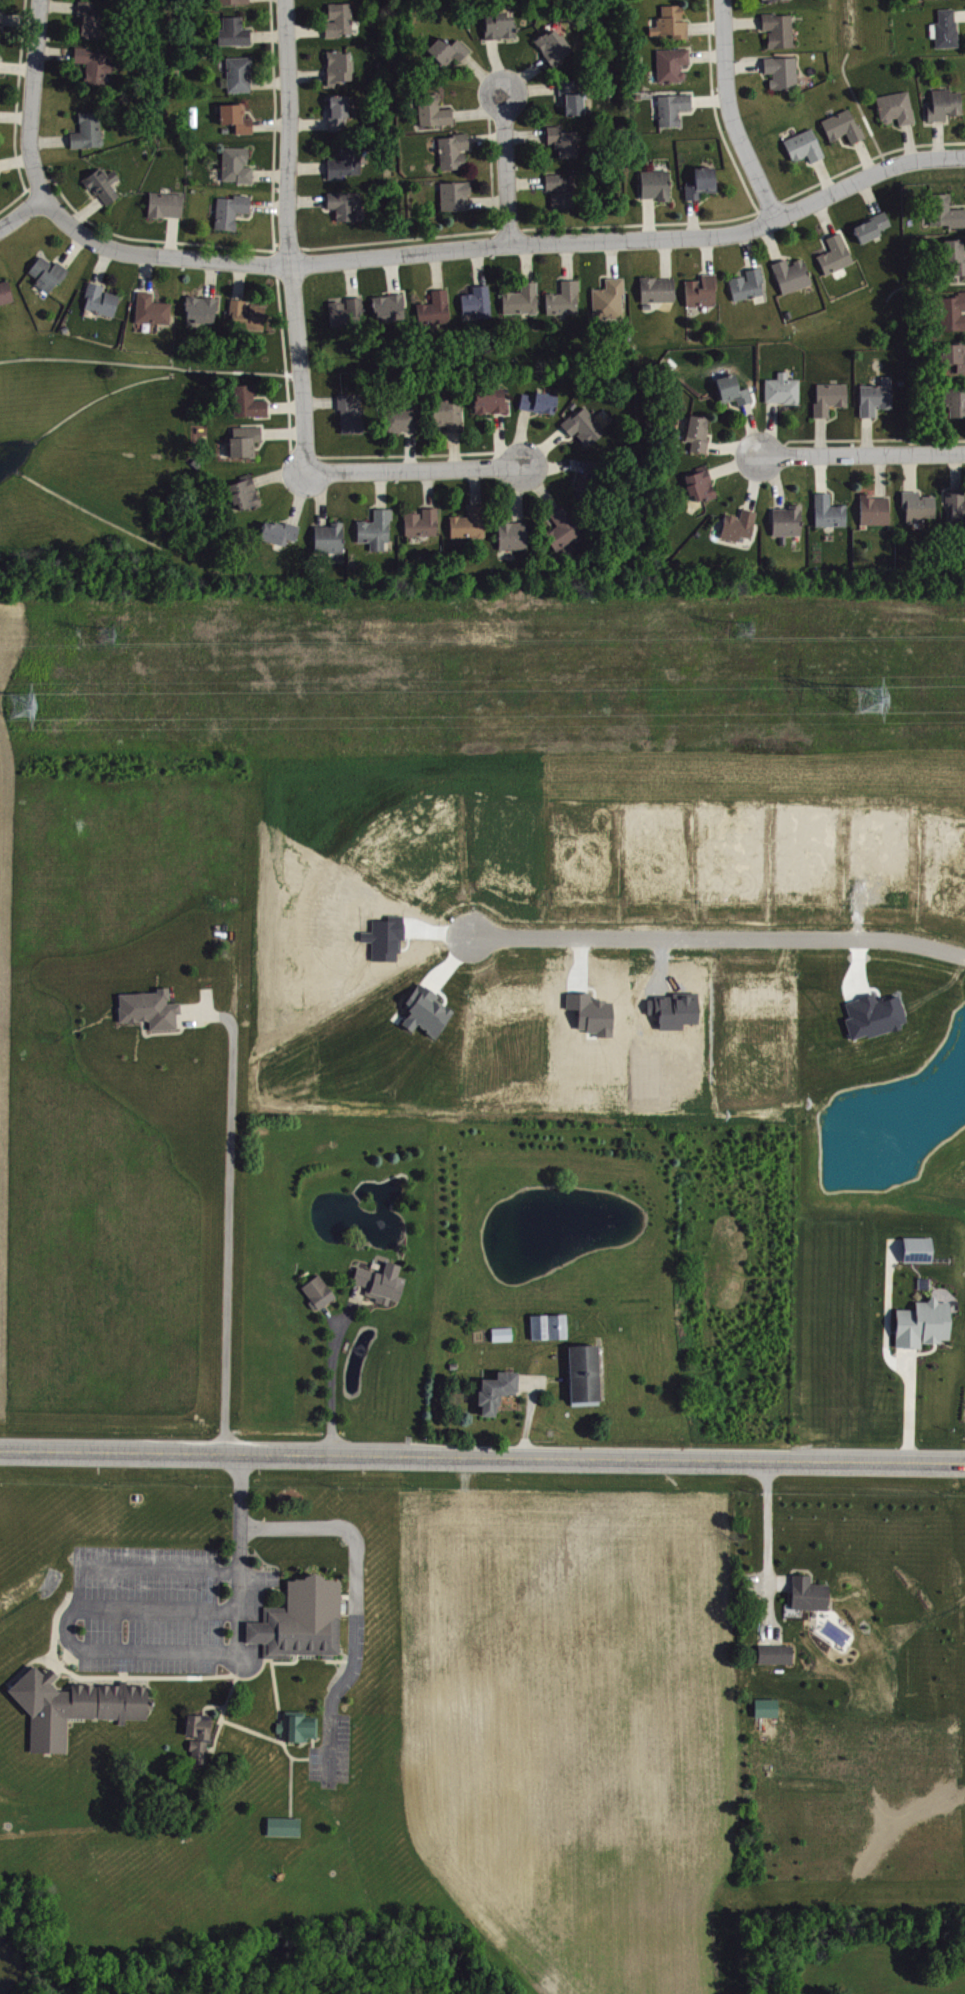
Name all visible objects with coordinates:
building: (775, 0)
building: (235, 2)
building: (2, 19)
building: (91, 20)
building: (342, 20)
building: (672, 24)
building: (502, 26)
building: (948, 29)
building: (781, 30)
building: (236, 32)
building: (556, 46)
building: (450, 50)
building: (0, 64)
building: (97, 65)
building: (674, 65)
building: (341, 67)
building: (784, 72)
building: (241, 74)
building: (573, 99)
road: (31, 100)
building: (946, 105)
building: (898, 108)
building: (675, 109)
building: (435, 111)
building: (340, 113)
road: (733, 115)
building: (239, 118)
building: (845, 126)
building: (90, 131)
building: (565, 141)
building: (806, 146)
building: (456, 151)
building: (348, 162)
building: (238, 165)
road: (508, 172)
building: (704, 183)
building: (658, 185)
building: (105, 186)
building: (563, 191)
building: (457, 196)
building: (167, 205)
building: (347, 205)
building: (233, 211)
building: (944, 212)
road: (22, 216)
building: (875, 227)
road: (288, 236)
road: (502, 246)
building: (837, 255)
building: (957, 255)
building: (50, 274)
building: (794, 276)
building: (750, 285)
building: (660, 290)
building: (704, 291)
building: (6, 293)
building: (567, 299)
building: (103, 300)
building: (524, 300)
building: (611, 300)
building: (479, 303)
building: (391, 308)
building: (437, 309)
building: (154, 310)
building: (203, 311)
building: (348, 311)
building: (249, 315)
building: (955, 358)
building: (784, 390)
building: (735, 391)
building: (878, 397)
building: (832, 398)
building: (493, 400)
building: (957, 401)
building: (250, 402)
building: (541, 403)
building: (450, 414)
building: (352, 415)
building: (404, 419)
building: (586, 427)
building: (700, 433)
building: (247, 441)
road: (866, 458)
road: (418, 471)
building: (702, 485)
building: (247, 493)
building: (920, 507)
building: (956, 507)
building: (877, 510)
building: (831, 512)
building: (789, 521)
building: (424, 523)
building: (471, 524)
building: (741, 526)
building: (565, 529)
building: (378, 530)
building: (282, 533)
building: (515, 536)
building: (332, 538)
power tower: (743, 628)
power tower: (106, 636)
power tower: (870, 698)
power tower: (23, 704)
road: (719, 938)
building: (152, 1009)
road: (231, 1219)
building: (920, 1250)
building: (384, 1283)
building: (321, 1293)
building: (925, 1324)
building: (551, 1327)
building: (504, 1335)
building: (586, 1376)
road: (335, 1384)
building: (498, 1391)
road: (908, 1410)
road: (482, 1460)
road: (770, 1538)
building: (811, 1595)
road: (358, 1599)
building: (304, 1621)
road: (136, 1652)
building: (777, 1655)
building: (75, 1707)
building: (769, 1708)
building: (201, 1727)
building: (300, 1727)
building: (200, 1753)
building: (286, 1827)
road: (51, 1833)

